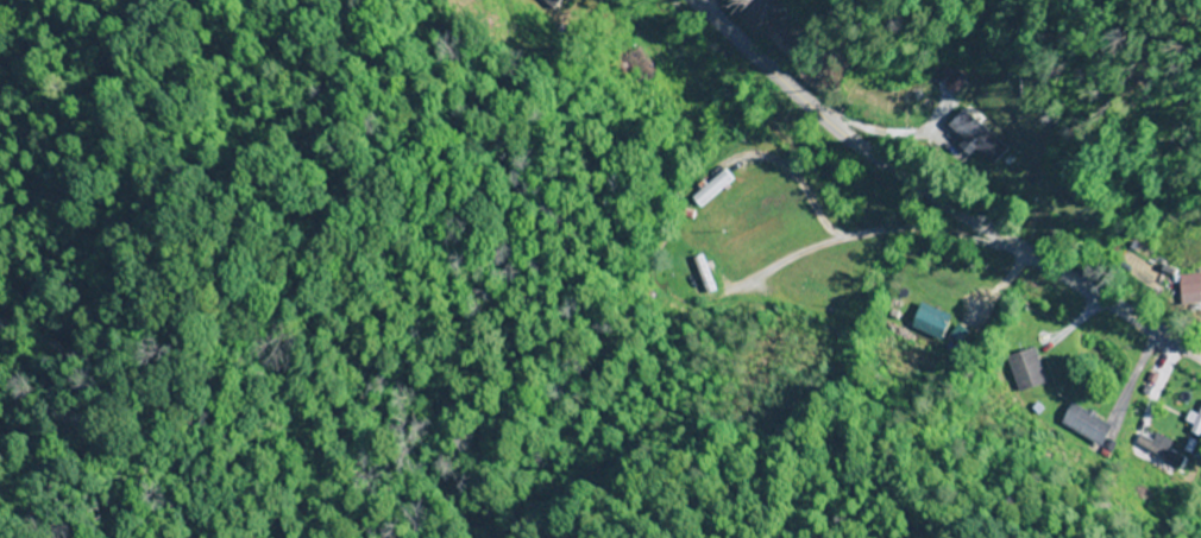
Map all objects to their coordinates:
road: (936, 195)
building: (929, 322)
building: (1197, 425)
building: (1158, 448)

